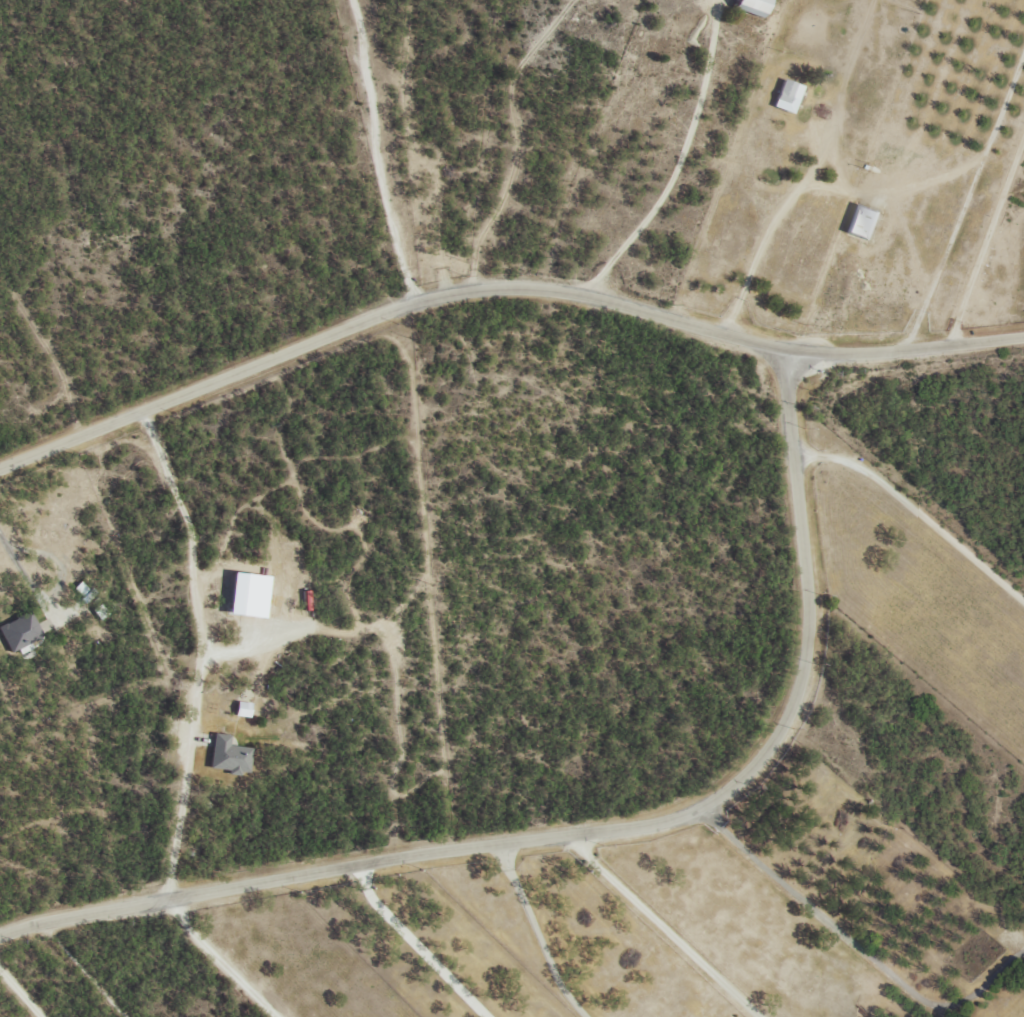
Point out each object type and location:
building: (747, 5)
building: (786, 95)
building: (861, 221)
road: (68, 232)
road: (505, 313)
building: (80, 589)
building: (244, 593)
building: (305, 598)
building: (18, 630)
building: (240, 708)
building: (227, 754)
road: (595, 830)

